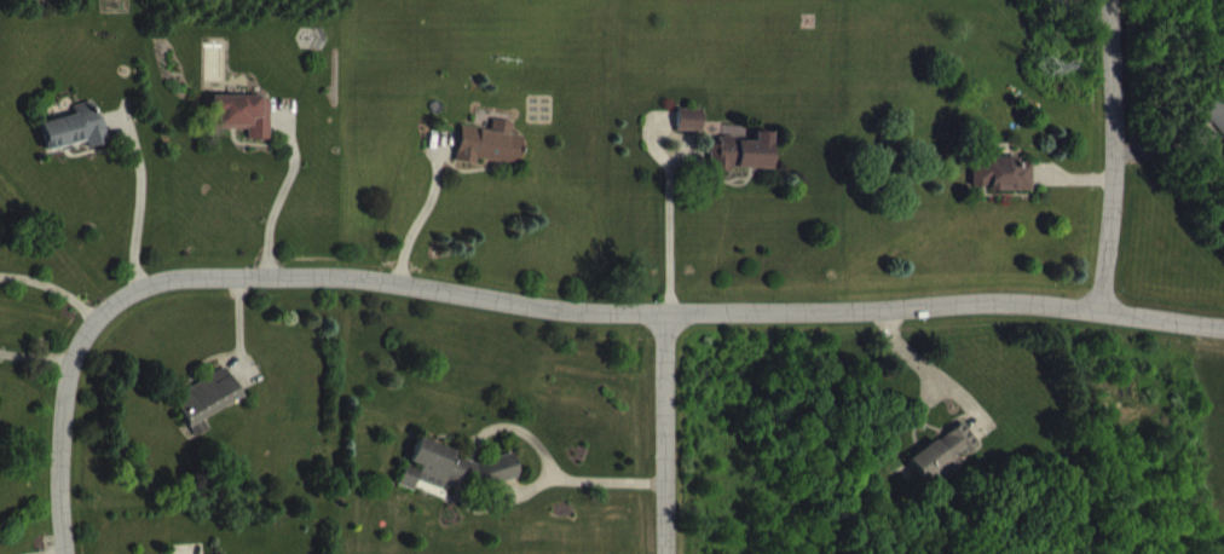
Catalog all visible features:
power tower: (1045, 64)
building: (1218, 125)
building: (247, 132)
building: (694, 137)
building: (81, 146)
road: (1113, 155)
building: (495, 161)
building: (747, 169)
building: (1008, 191)
road: (278, 194)
road: (138, 202)
road: (421, 210)
road: (668, 237)
road: (53, 284)
road: (532, 306)
road: (925, 367)
building: (212, 417)
road: (526, 433)
road: (662, 433)
building: (948, 471)
road: (577, 478)
building: (460, 486)

